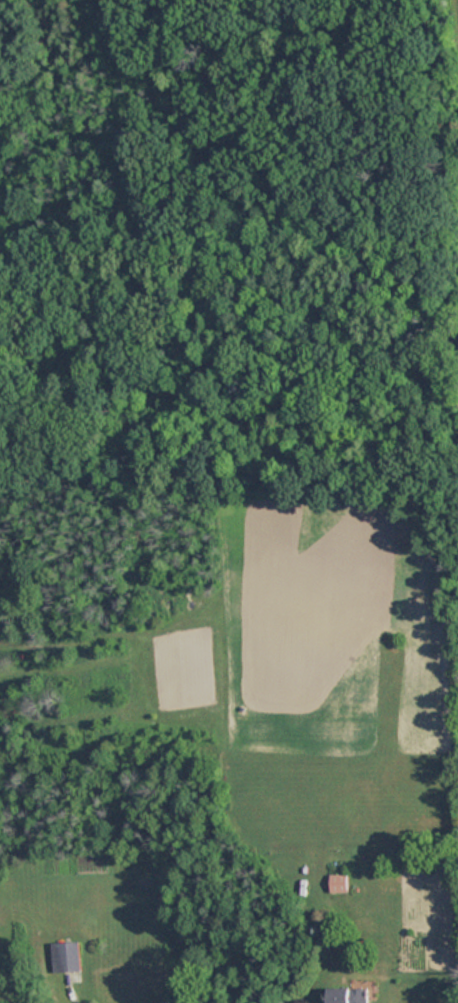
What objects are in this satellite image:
building: (341, 883)
building: (65, 956)
building: (351, 995)

